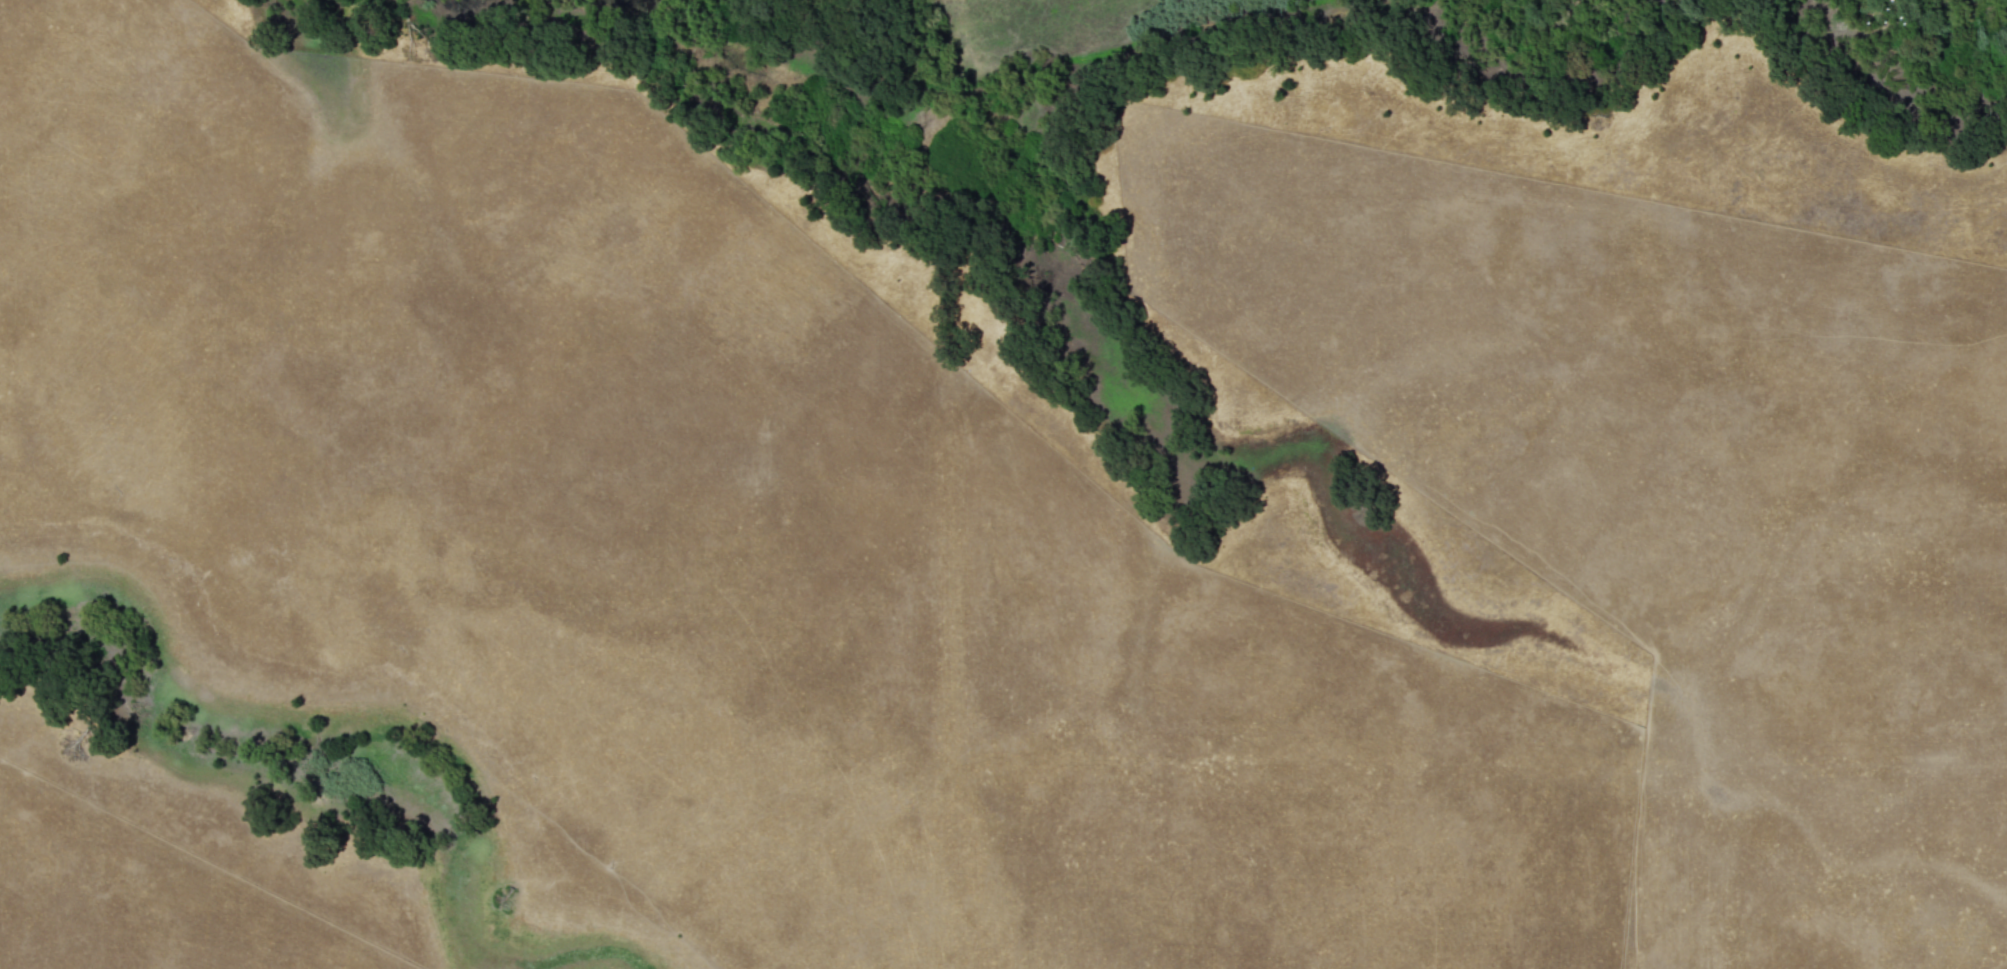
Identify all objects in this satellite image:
crop: (1493, 856)
crop: (578, 958)

